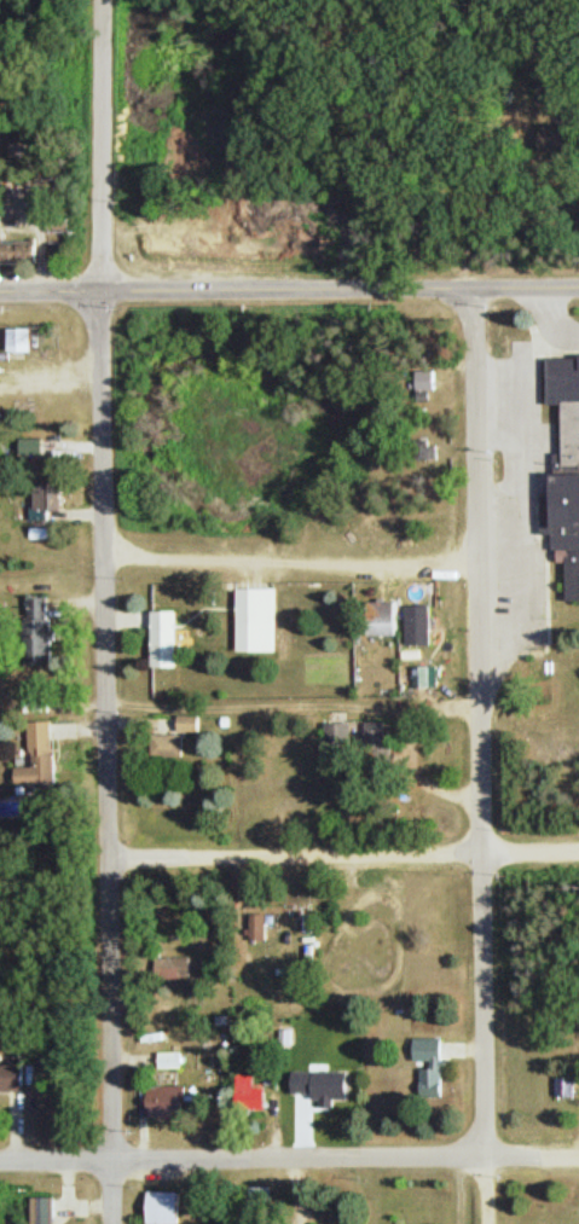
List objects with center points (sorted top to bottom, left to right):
building: (388, 80)
building: (25, 248)
building: (63, 250)
road: (289, 285)
building: (25, 337)
building: (429, 384)
building: (568, 453)
road: (290, 557)
building: (261, 605)
road: (106, 611)
building: (384, 616)
building: (422, 623)
building: (46, 628)
building: (172, 634)
road: (479, 718)
building: (173, 743)
building: (42, 759)
road: (344, 851)
building: (262, 924)
building: (179, 967)
building: (175, 1060)
building: (433, 1062)
building: (12, 1077)
building: (568, 1085)
building: (256, 1096)
building: (173, 1101)
road: (532, 1153)
road: (243, 1158)
building: (265, 1196)
building: (169, 1206)
building: (50, 1210)

